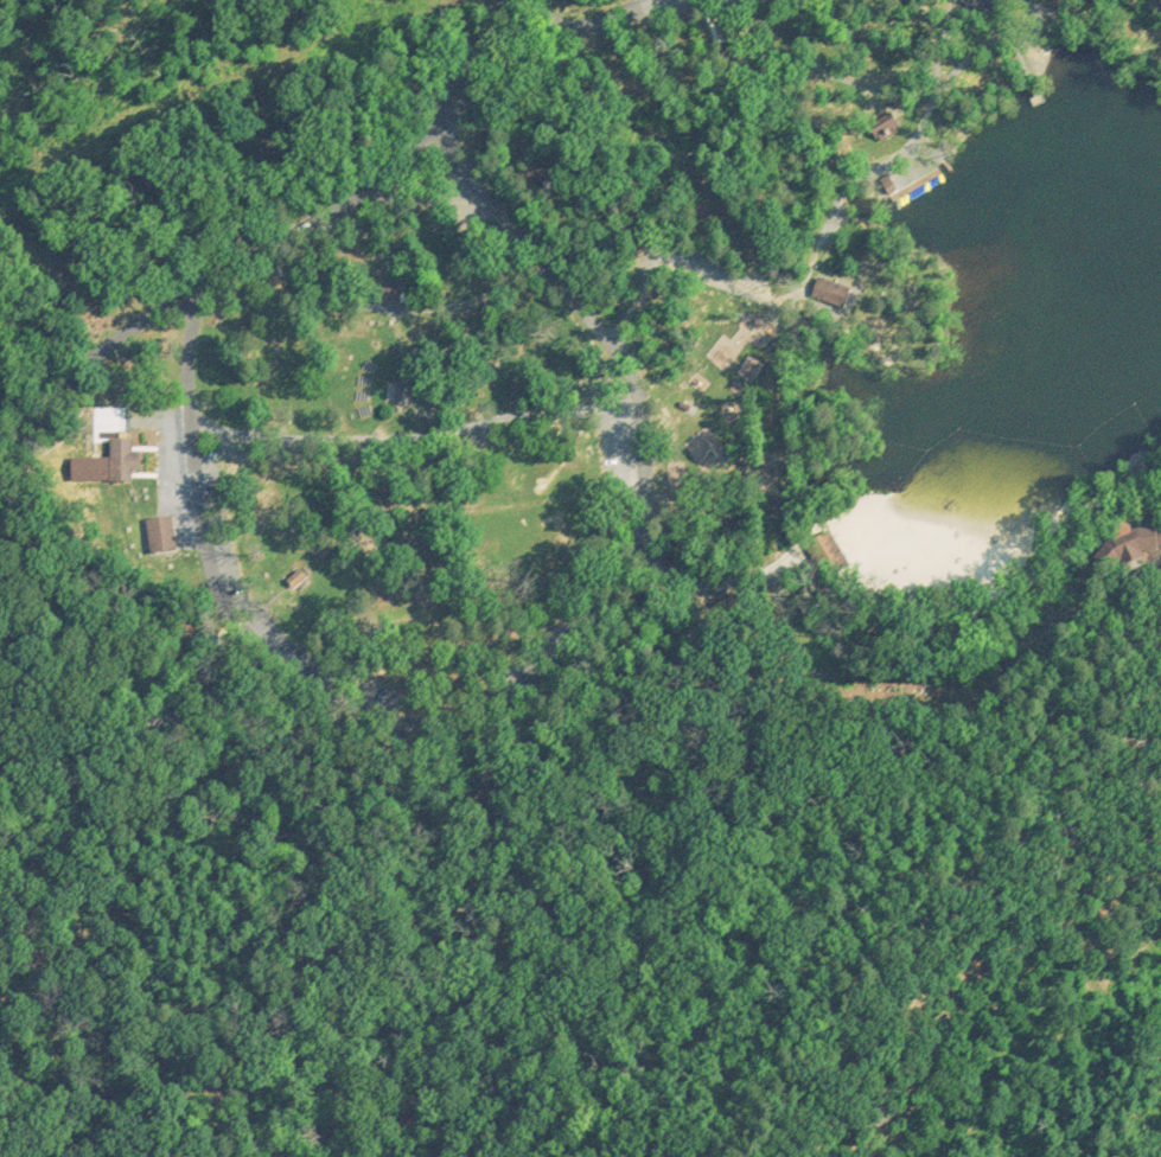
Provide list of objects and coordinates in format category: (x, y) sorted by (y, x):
road: (1072, 1)
parking lot: (993, 7)
parking lot: (689, 8)
road: (1084, 8)
road: (779, 20)
road: (591, 23)
road: (785, 34)
road: (1020, 51)
road: (1119, 51)
road: (821, 83)
pier: (1035, 90)
building: (881, 120)
pier: (975, 132)
building: (887, 179)
road: (823, 212)
road: (262, 247)
building: (377, 248)
building: (383, 282)
building: (828, 286)
building: (379, 296)
road: (186, 410)
road: (151, 416)
road: (397, 430)
building: (121, 456)
road: (648, 511)
building: (158, 531)
building: (1137, 538)
building: (830, 544)
building: (294, 573)
road: (606, 608)

